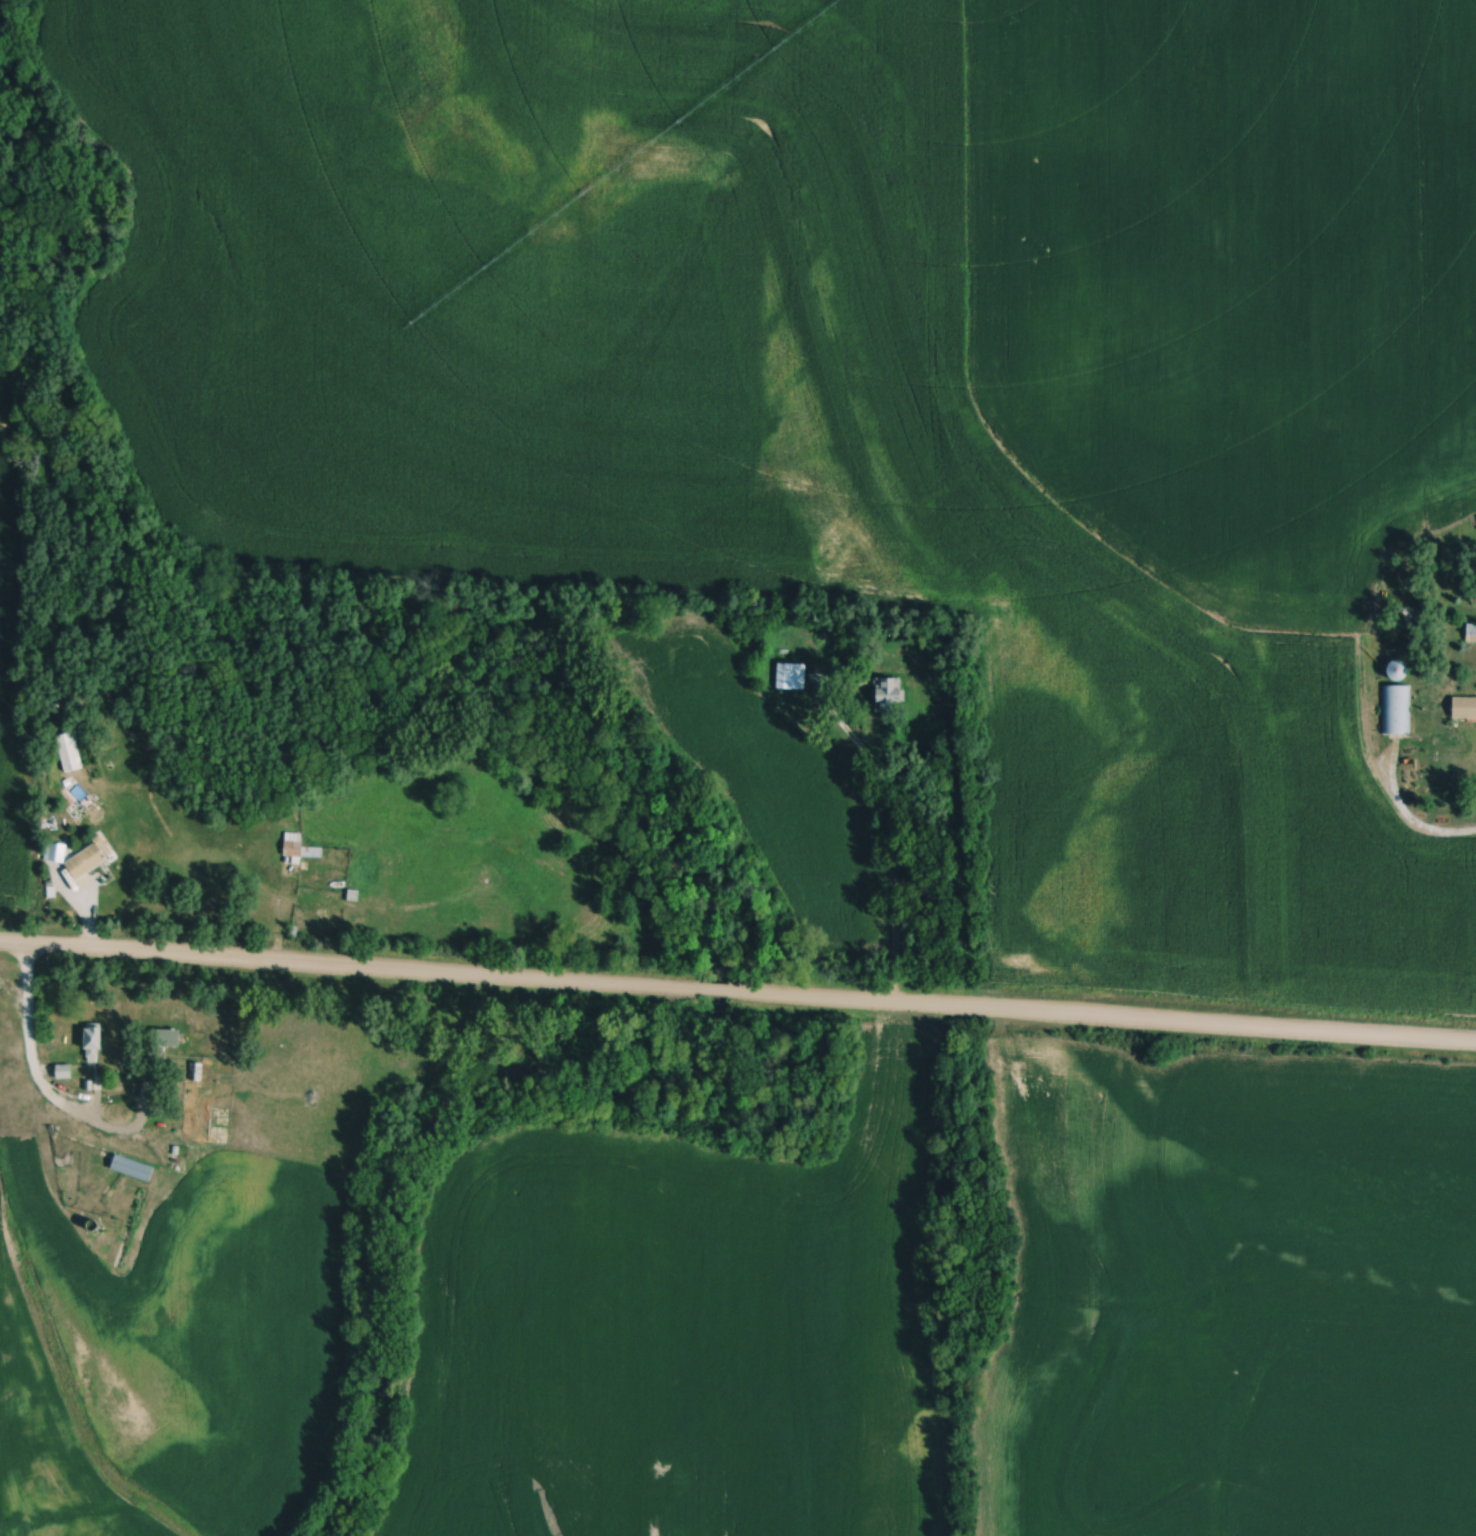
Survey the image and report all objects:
building: (1471, 634)
building: (1398, 672)
building: (792, 677)
building: (890, 694)
building: (1465, 708)
building: (1398, 711)
building: (70, 753)
river: (599, 764)
building: (301, 848)
building: (88, 862)
road: (353, 965)
road: (719, 986)
road: (15, 998)
road: (1103, 1015)
road: (29, 1035)
building: (168, 1039)
building: (95, 1044)
road: (132, 1134)
building: (134, 1169)

